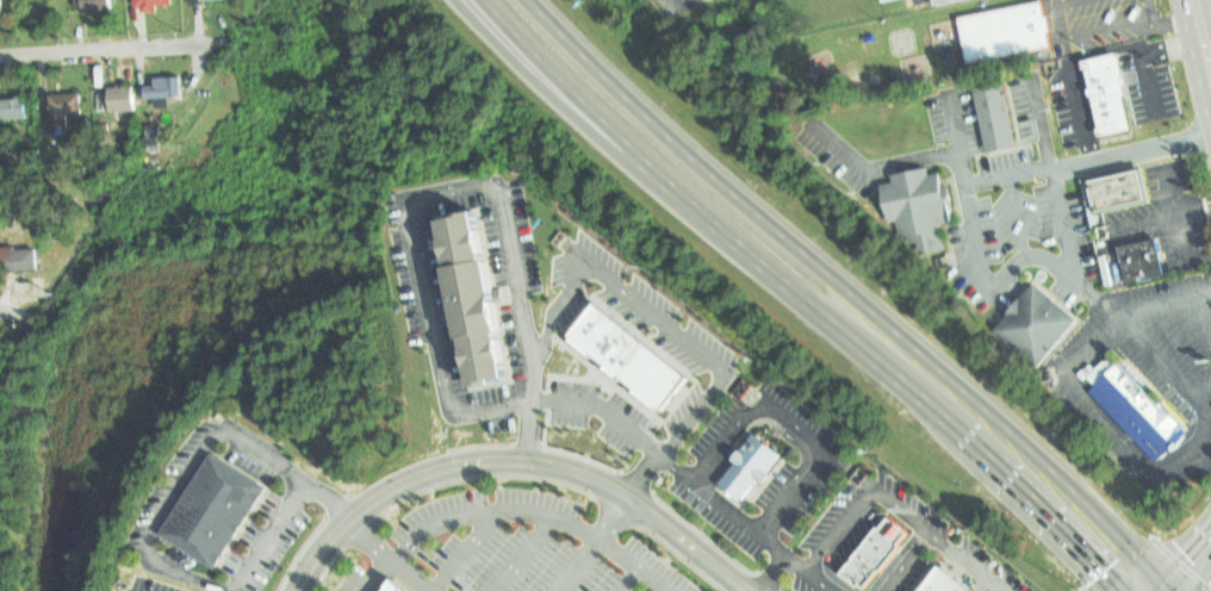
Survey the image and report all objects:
building: (211, 0)
building: (151, 2)
building: (948, 2)
building: (95, 4)
building: (0, 5)
building: (1002, 30)
road: (1112, 31)
road: (1205, 43)
road: (113, 45)
road: (1199, 48)
road: (1172, 51)
road: (1089, 52)
building: (168, 89)
building: (1110, 94)
road: (582, 98)
building: (120, 101)
building: (62, 105)
road: (563, 105)
building: (14, 108)
building: (993, 113)
road: (1088, 158)
road: (880, 166)
road: (1055, 179)
building: (1113, 188)
building: (908, 204)
road: (1178, 214)
road: (1018, 216)
road: (1162, 217)
road: (417, 244)
road: (1027, 255)
building: (19, 259)
building: (1130, 259)
road: (843, 287)
building: (470, 295)
road: (15, 307)
road: (656, 311)
road: (1123, 313)
road: (1205, 313)
building: (1030, 325)
building: (592, 329)
building: (611, 344)
building: (626, 355)
building: (640, 366)
building: (652, 375)
building: (666, 388)
road: (908, 390)
building: (1132, 408)
road: (794, 428)
road: (1205, 428)
road: (514, 446)
building: (745, 473)
road: (644, 477)
building: (211, 505)
road: (529, 511)
road: (156, 516)
road: (741, 523)
road: (839, 531)
road: (942, 540)
road: (591, 545)
building: (874, 549)
road: (465, 550)
road: (523, 553)
road: (384, 554)
road: (1178, 558)
road: (906, 561)
road: (774, 574)
road: (378, 576)
road: (625, 579)
traffic signals: (1157, 579)
building: (939, 584)
road: (1161, 585)
building: (400, 587)

